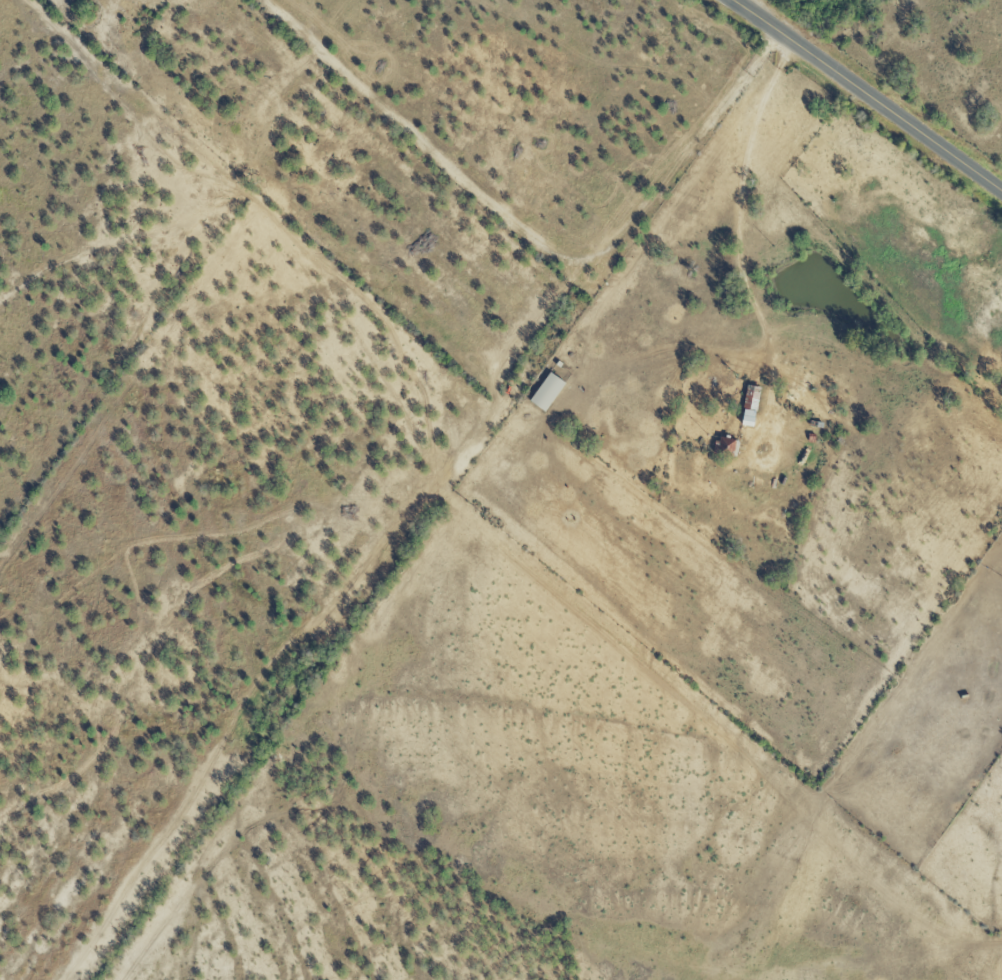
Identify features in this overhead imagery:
road: (743, 3)
road: (867, 94)
road: (739, 236)
building: (548, 392)
building: (752, 406)
building: (725, 447)

